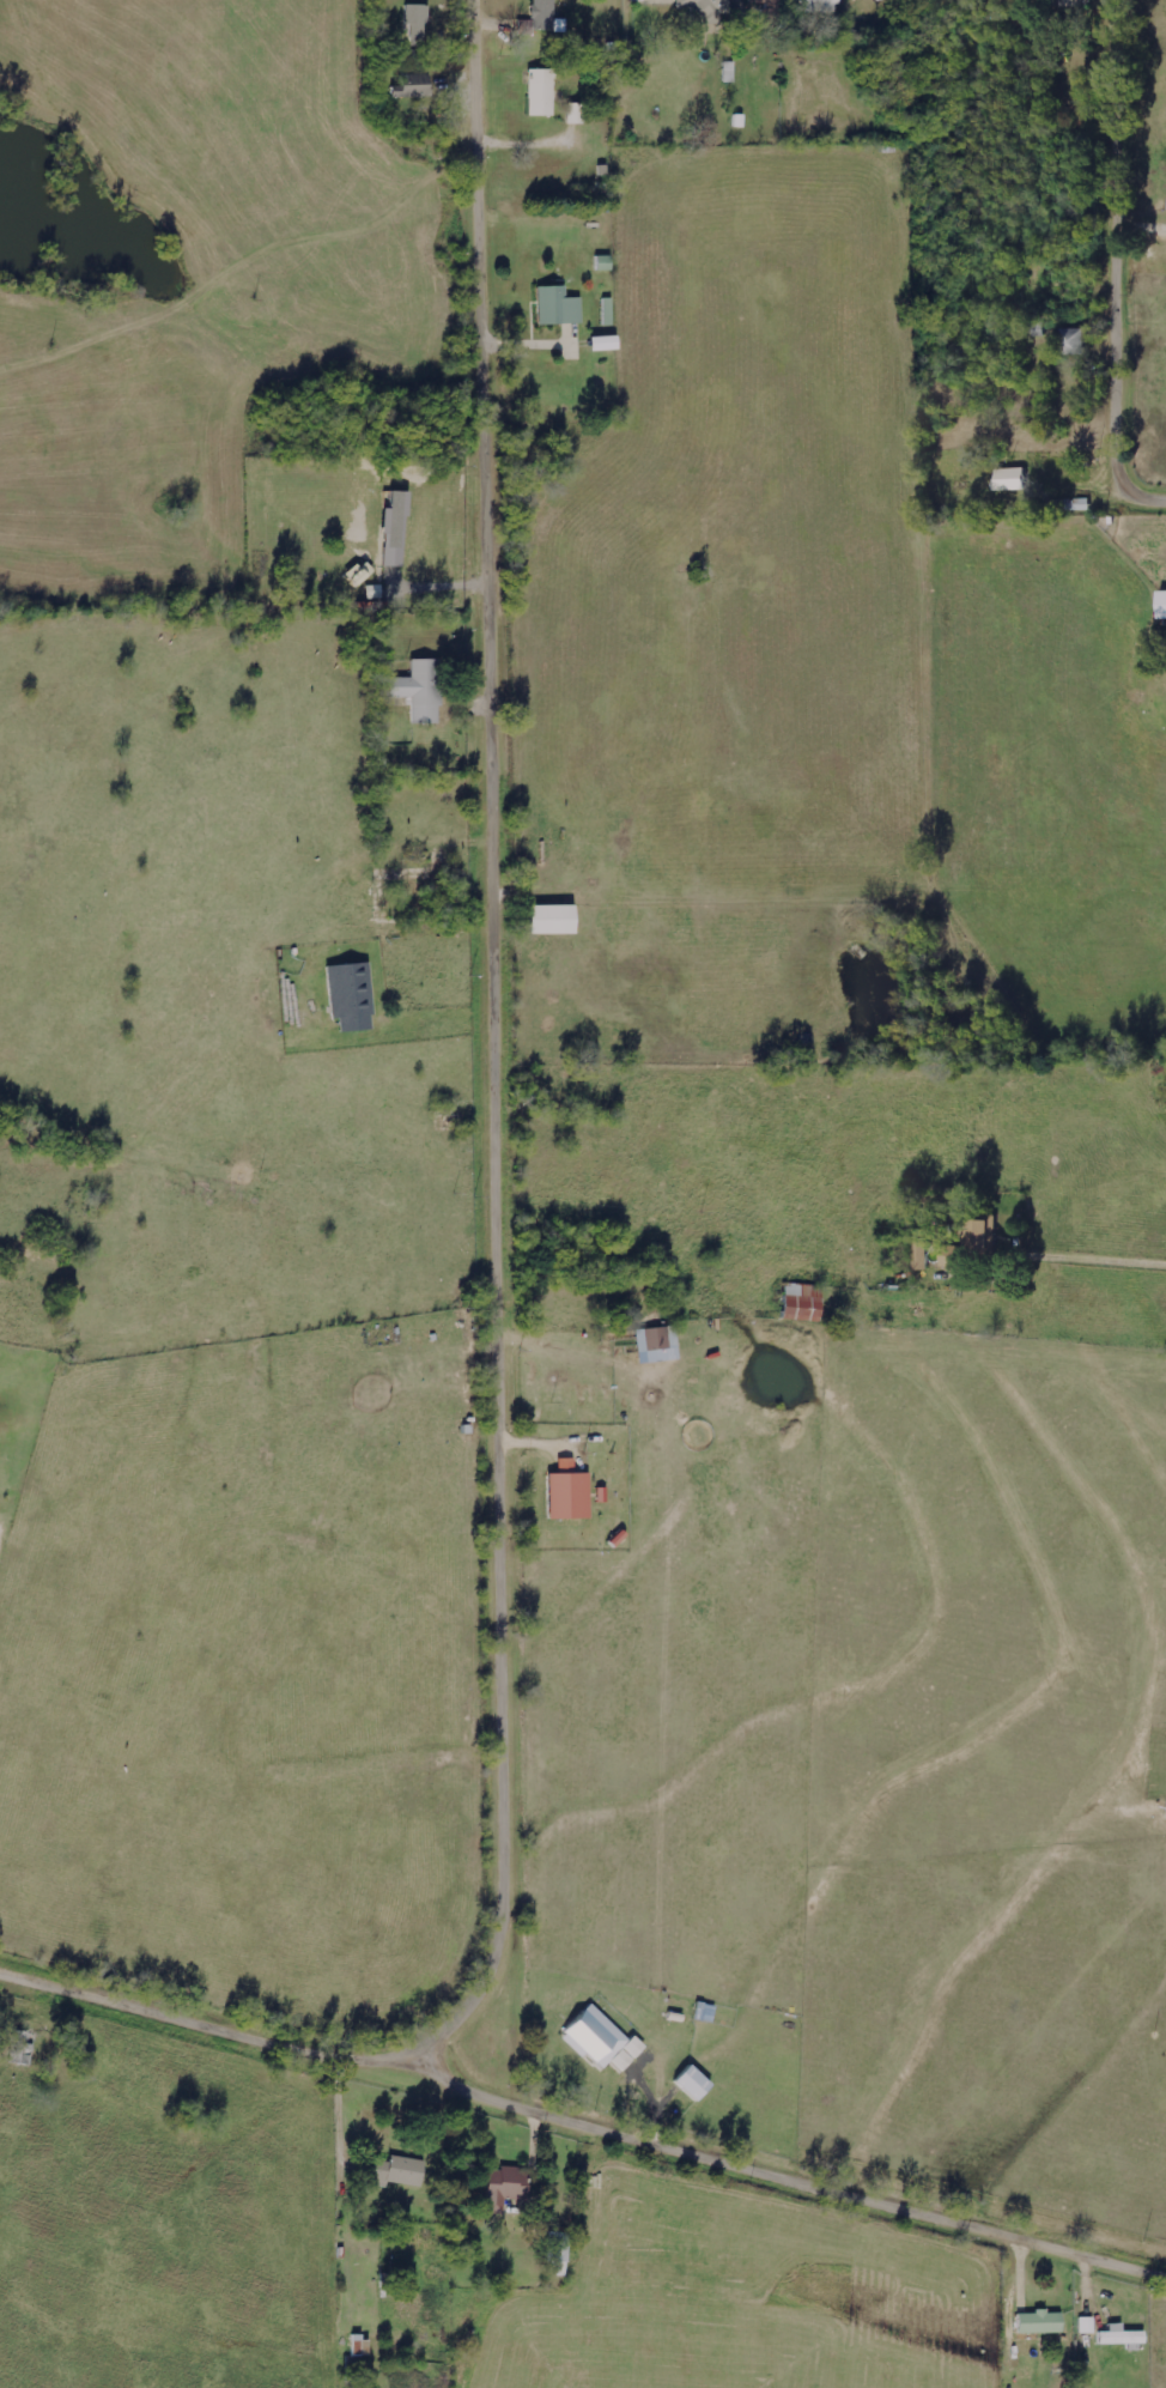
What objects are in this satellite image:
building: (766, 2)
building: (1076, 4)
building: (812, 5)
building: (705, 10)
building: (541, 17)
building: (418, 24)
building: (413, 86)
building: (541, 92)
building: (577, 114)
road: (1123, 263)
building: (559, 308)
building: (608, 313)
building: (1074, 343)
building: (1013, 481)
building: (1079, 505)
building: (1164, 605)
building: (421, 690)
building: (554, 920)
building: (352, 996)
road: (505, 1050)
building: (986, 1237)
building: (921, 1256)
building: (952, 1256)
building: (803, 1303)
building: (657, 1339)
building: (570, 1496)
building: (603, 2041)
building: (694, 2083)
road: (582, 2128)
building: (397, 2171)
building: (505, 2188)
building: (559, 2251)
building: (1040, 2322)
building: (1088, 2326)
building: (1123, 2337)

